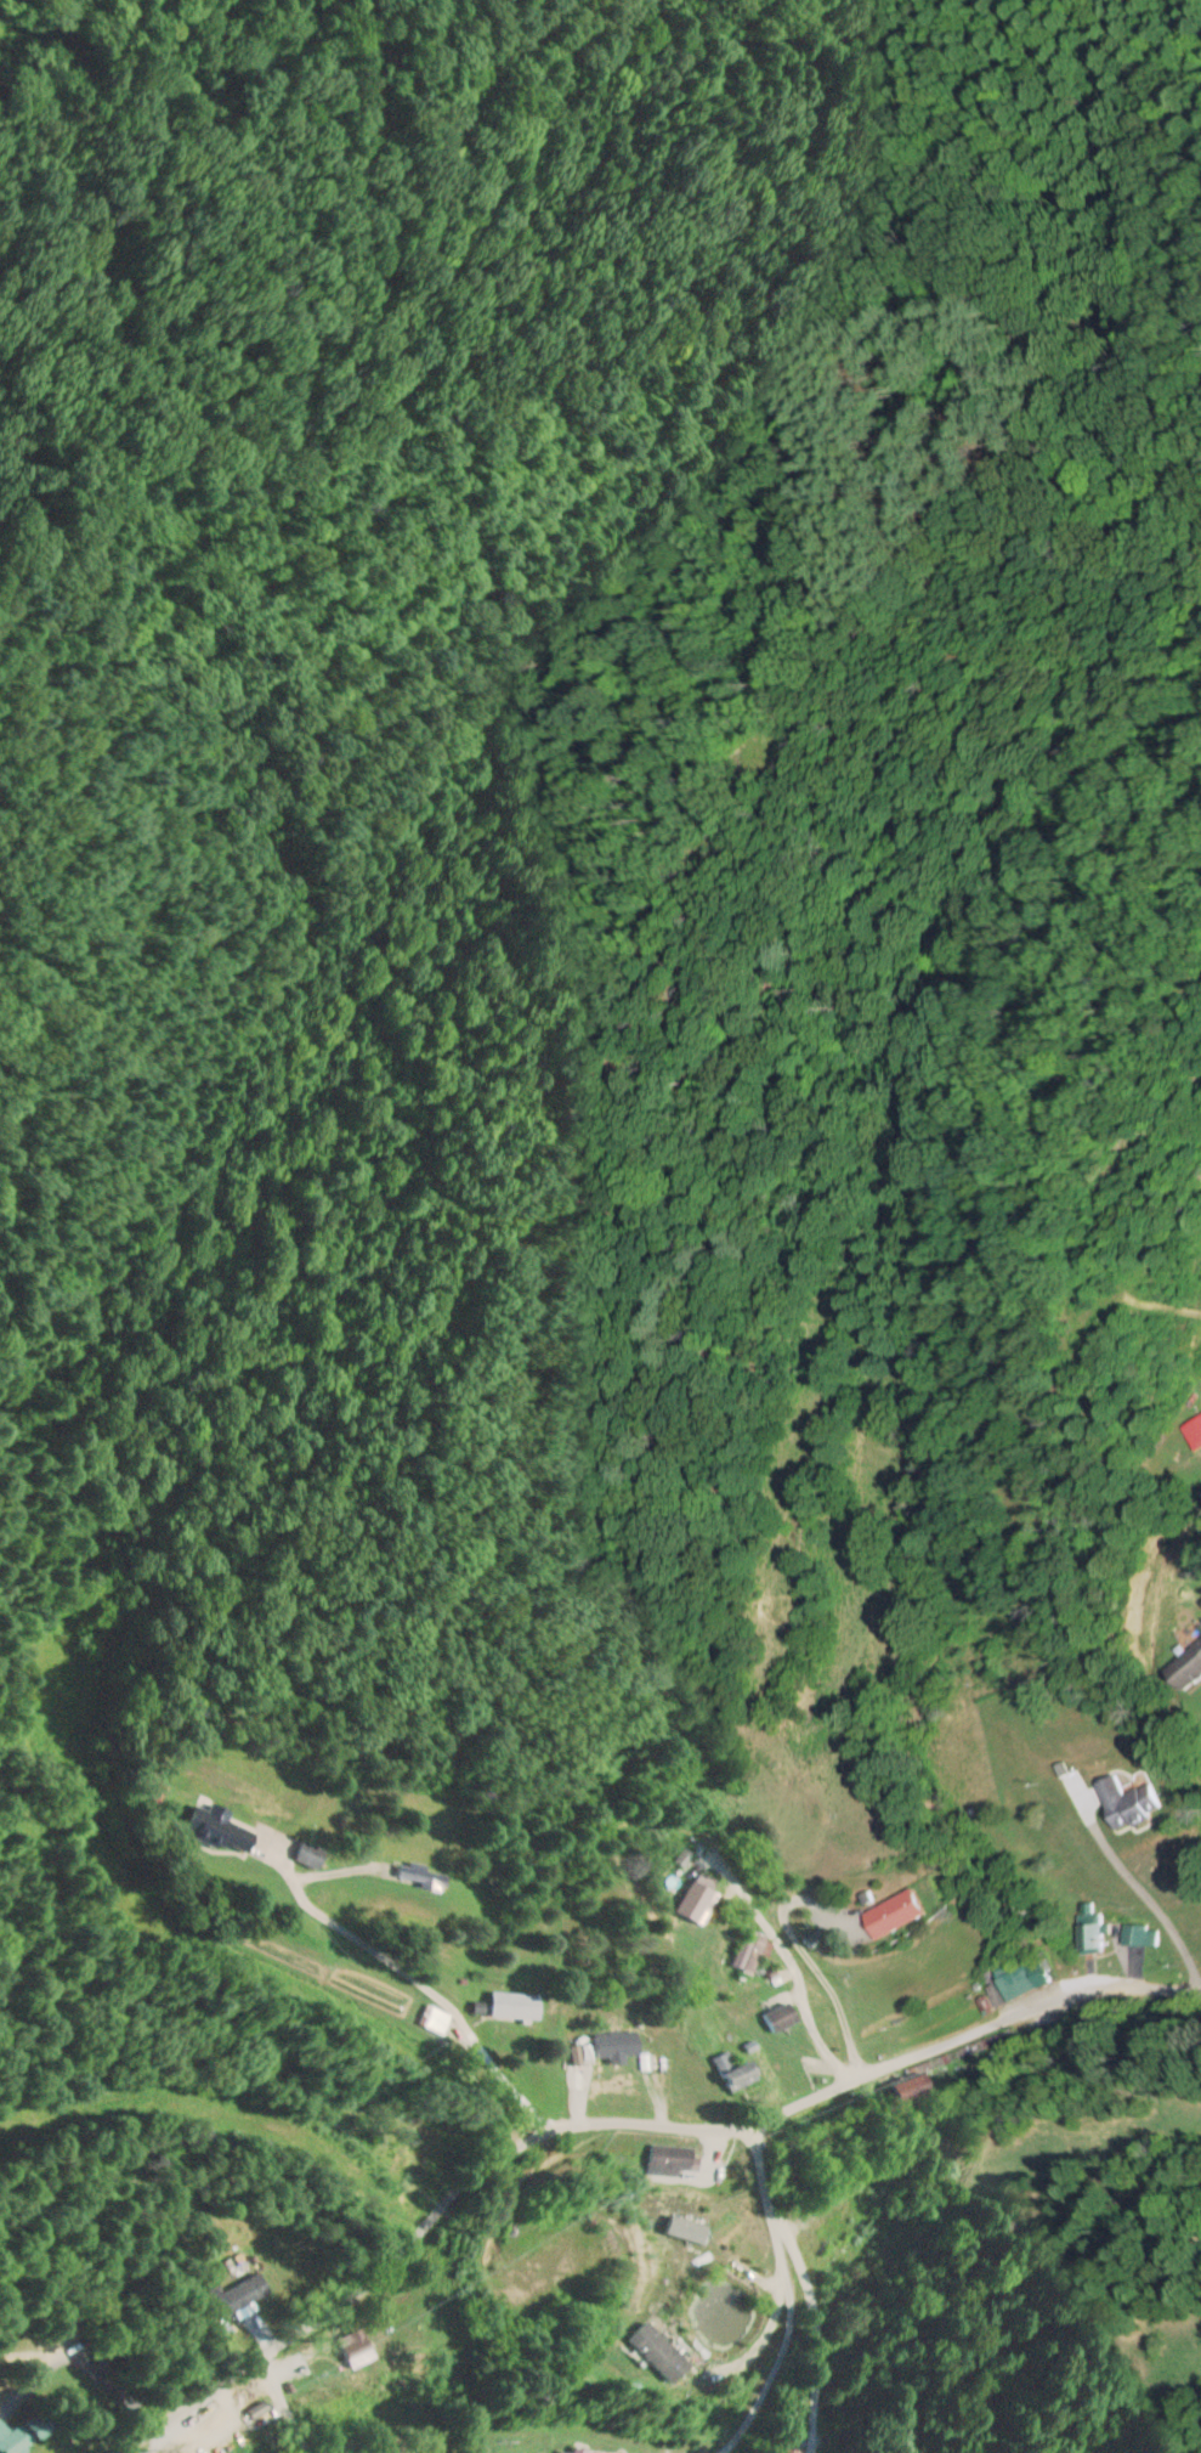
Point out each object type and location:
building: (1191, 1430)
building: (1184, 1666)
building: (1121, 1799)
building: (223, 1829)
building: (313, 1853)
building: (424, 1873)
building: (702, 1901)
building: (885, 1914)
building: (1084, 1937)
building: (744, 1950)
road: (408, 1978)
building: (1016, 1978)
building: (520, 2005)
building: (776, 2017)
building: (437, 2019)
building: (623, 2041)
building: (727, 2070)
building: (903, 2087)
road: (605, 2123)
building: (837, 2250)
building: (243, 2293)
building: (359, 2346)
building: (652, 2352)
building: (29, 2432)
building: (788, 2451)
building: (577, 2452)

